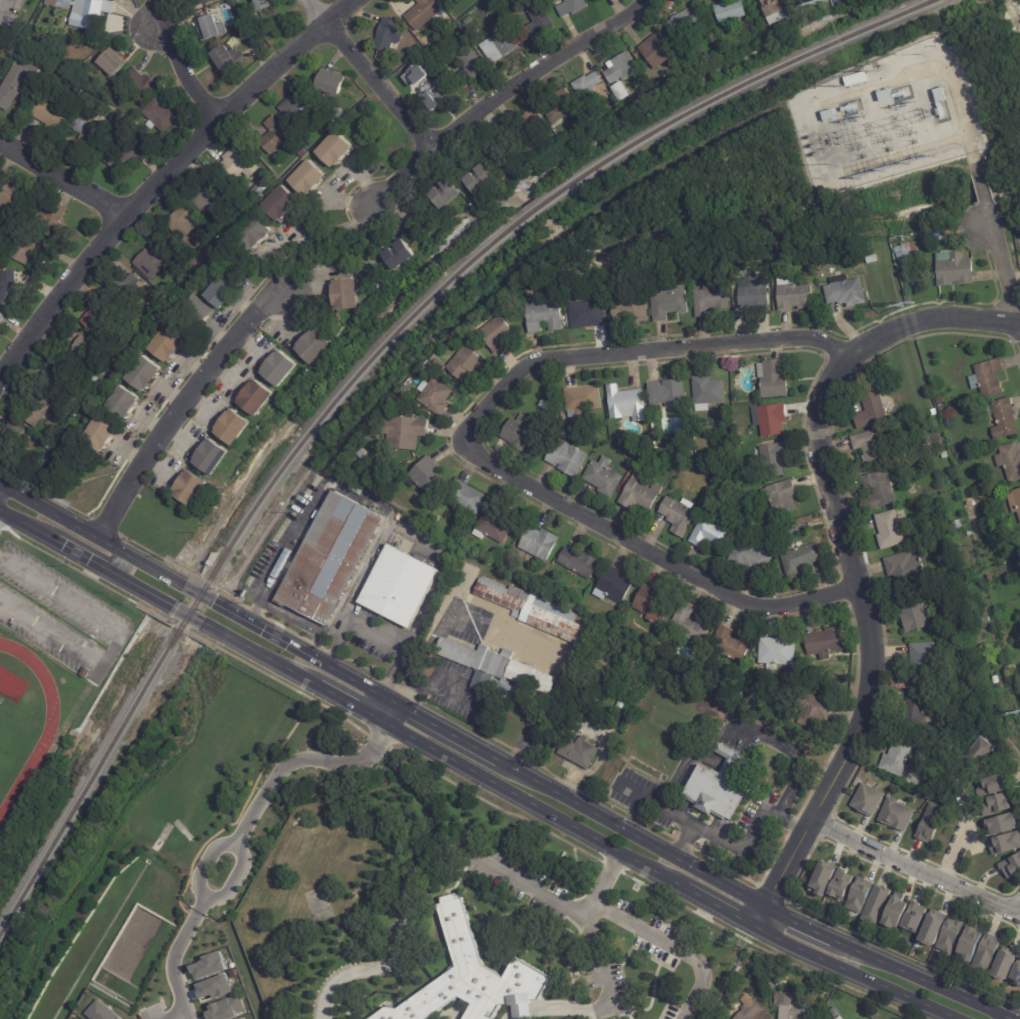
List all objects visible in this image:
building: (443, 0)
building: (450, 1)
building: (562, 1)
building: (203, 2)
power tower: (822, 2)
building: (61, 3)
building: (259, 3)
building: (776, 6)
building: (492, 7)
building: (574, 8)
building: (731, 10)
building: (91, 14)
building: (428, 14)
building: (688, 18)
building: (540, 21)
building: (754, 25)
building: (212, 28)
building: (53, 36)
building: (390, 36)
building: (718, 38)
building: (500, 47)
building: (658, 50)
building: (228, 59)
building: (113, 62)
road: (177, 62)
building: (474, 65)
building: (623, 67)
building: (415, 74)
road: (365, 77)
building: (851, 78)
building: (328, 81)
building: (17, 83)
building: (142, 84)
building: (592, 87)
building: (624, 90)
building: (619, 91)
building: (438, 92)
building: (936, 92)
building: (881, 93)
road: (502, 99)
building: (564, 105)
building: (299, 107)
building: (825, 113)
building: (49, 116)
building: (161, 116)
power substation: (886, 117)
building: (536, 121)
building: (89, 131)
building: (320, 133)
building: (276, 134)
building: (103, 144)
building: (330, 147)
building: (298, 152)
building: (124, 158)
building: (239, 161)
power tower: (837, 167)
building: (303, 176)
road: (162, 178)
building: (483, 180)
road: (62, 184)
building: (260, 189)
building: (447, 193)
building: (9, 195)
building: (208, 195)
building: (277, 202)
building: (184, 223)
building: (56, 224)
building: (250, 229)
power tower: (905, 236)
road: (312, 241)
building: (23, 247)
building: (905, 252)
building: (396, 253)
building: (154, 261)
building: (952, 270)
road: (1003, 279)
building: (524, 282)
building: (8, 288)
building: (336, 291)
building: (846, 291)
building: (123, 292)
building: (222, 292)
building: (795, 293)
building: (759, 294)
building: (713, 299)
building: (670, 302)
power tower: (907, 305)
building: (632, 308)
building: (201, 310)
building: (590, 312)
building: (545, 315)
building: (2, 319)
building: (94, 319)
building: (474, 330)
building: (498, 334)
building: (169, 344)
building: (315, 346)
building: (85, 352)
building: (467, 363)
railway: (366, 364)
building: (442, 364)
building: (426, 366)
building: (280, 368)
building: (145, 374)
building: (770, 377)
building: (990, 378)
building: (57, 379)
building: (664, 390)
building: (710, 390)
building: (404, 392)
building: (555, 394)
building: (436, 395)
building: (257, 397)
building: (579, 397)
building: (399, 400)
building: (622, 401)
building: (125, 404)
building: (941, 404)
road: (178, 406)
building: (548, 406)
building: (38, 408)
building: (873, 410)
building: (741, 414)
building: (546, 415)
building: (772, 419)
building: (1006, 420)
building: (233, 427)
building: (406, 432)
building: (524, 434)
building: (102, 435)
building: (739, 437)
building: (24, 445)
building: (872, 447)
building: (958, 449)
road: (470, 450)
building: (947, 454)
building: (364, 455)
building: (212, 456)
building: (568, 456)
building: (777, 458)
building: (968, 458)
building: (1011, 460)
building: (430, 476)
building: (605, 476)
building: (192, 488)
building: (882, 489)
building: (643, 492)
road: (1, 493)
building: (784, 496)
building: (468, 498)
building: (1015, 500)
building: (680, 514)
building: (437, 519)
road: (301, 521)
building: (959, 524)
building: (493, 525)
building: (891, 529)
building: (970, 533)
building: (713, 534)
building: (541, 542)
building: (509, 544)
building: (788, 547)
building: (754, 556)
building: (333, 558)
building: (804, 558)
road: (848, 558)
building: (581, 561)
building: (1018, 561)
building: (910, 566)
building: (998, 570)
building: (992, 578)
building: (614, 585)
building: (398, 588)
building: (654, 605)
building: (538, 611)
building: (915, 611)
parking lot: (58, 616)
road: (193, 616)
building: (989, 619)
building: (693, 624)
building: (32, 632)
road: (374, 636)
road: (118, 639)
building: (827, 640)
building: (733, 644)
building: (778, 651)
building: (926, 654)
building: (1016, 656)
building: (66, 659)
building: (750, 665)
building: (105, 671)
building: (500, 671)
building: (997, 680)
building: (741, 691)
building: (757, 697)
building: (918, 705)
road: (390, 712)
building: (819, 712)
building: (797, 715)
track: (47, 728)
park: (9, 735)
building: (581, 751)
building: (977, 753)
building: (899, 758)
road: (301, 759)
road: (502, 760)
building: (720, 785)
building: (988, 785)
road: (640, 797)
building: (866, 799)
building: (994, 804)
road: (776, 805)
road: (669, 812)
building: (895, 814)
road: (963, 821)
road: (790, 823)
building: (933, 823)
building: (1001, 824)
building: (1004, 842)
road: (205, 864)
building: (1010, 865)
road: (917, 866)
building: (821, 877)
road: (664, 878)
road: (233, 880)
building: (839, 885)
building: (858, 894)
road: (553, 903)
building: (875, 904)
road: (199, 907)
building: (895, 911)
building: (913, 916)
building: (932, 927)
building: (949, 935)
road: (673, 945)
building: (968, 945)
building: (985, 952)
road: (172, 963)
building: (1003, 964)
building: (208, 966)
building: (1015, 974)
road: (335, 976)
building: (470, 978)
building: (771, 985)
building: (215, 987)
road: (609, 993)
building: (795, 1006)
building: (226, 1009)
building: (753, 1009)
building: (830, 1011)
building: (837, 1011)
building: (872, 1011)
building: (103, 1012)
road: (519, 1013)
road: (174, 1014)
road: (506, 1016)
building: (843, 1017)
building: (242, 1018)

